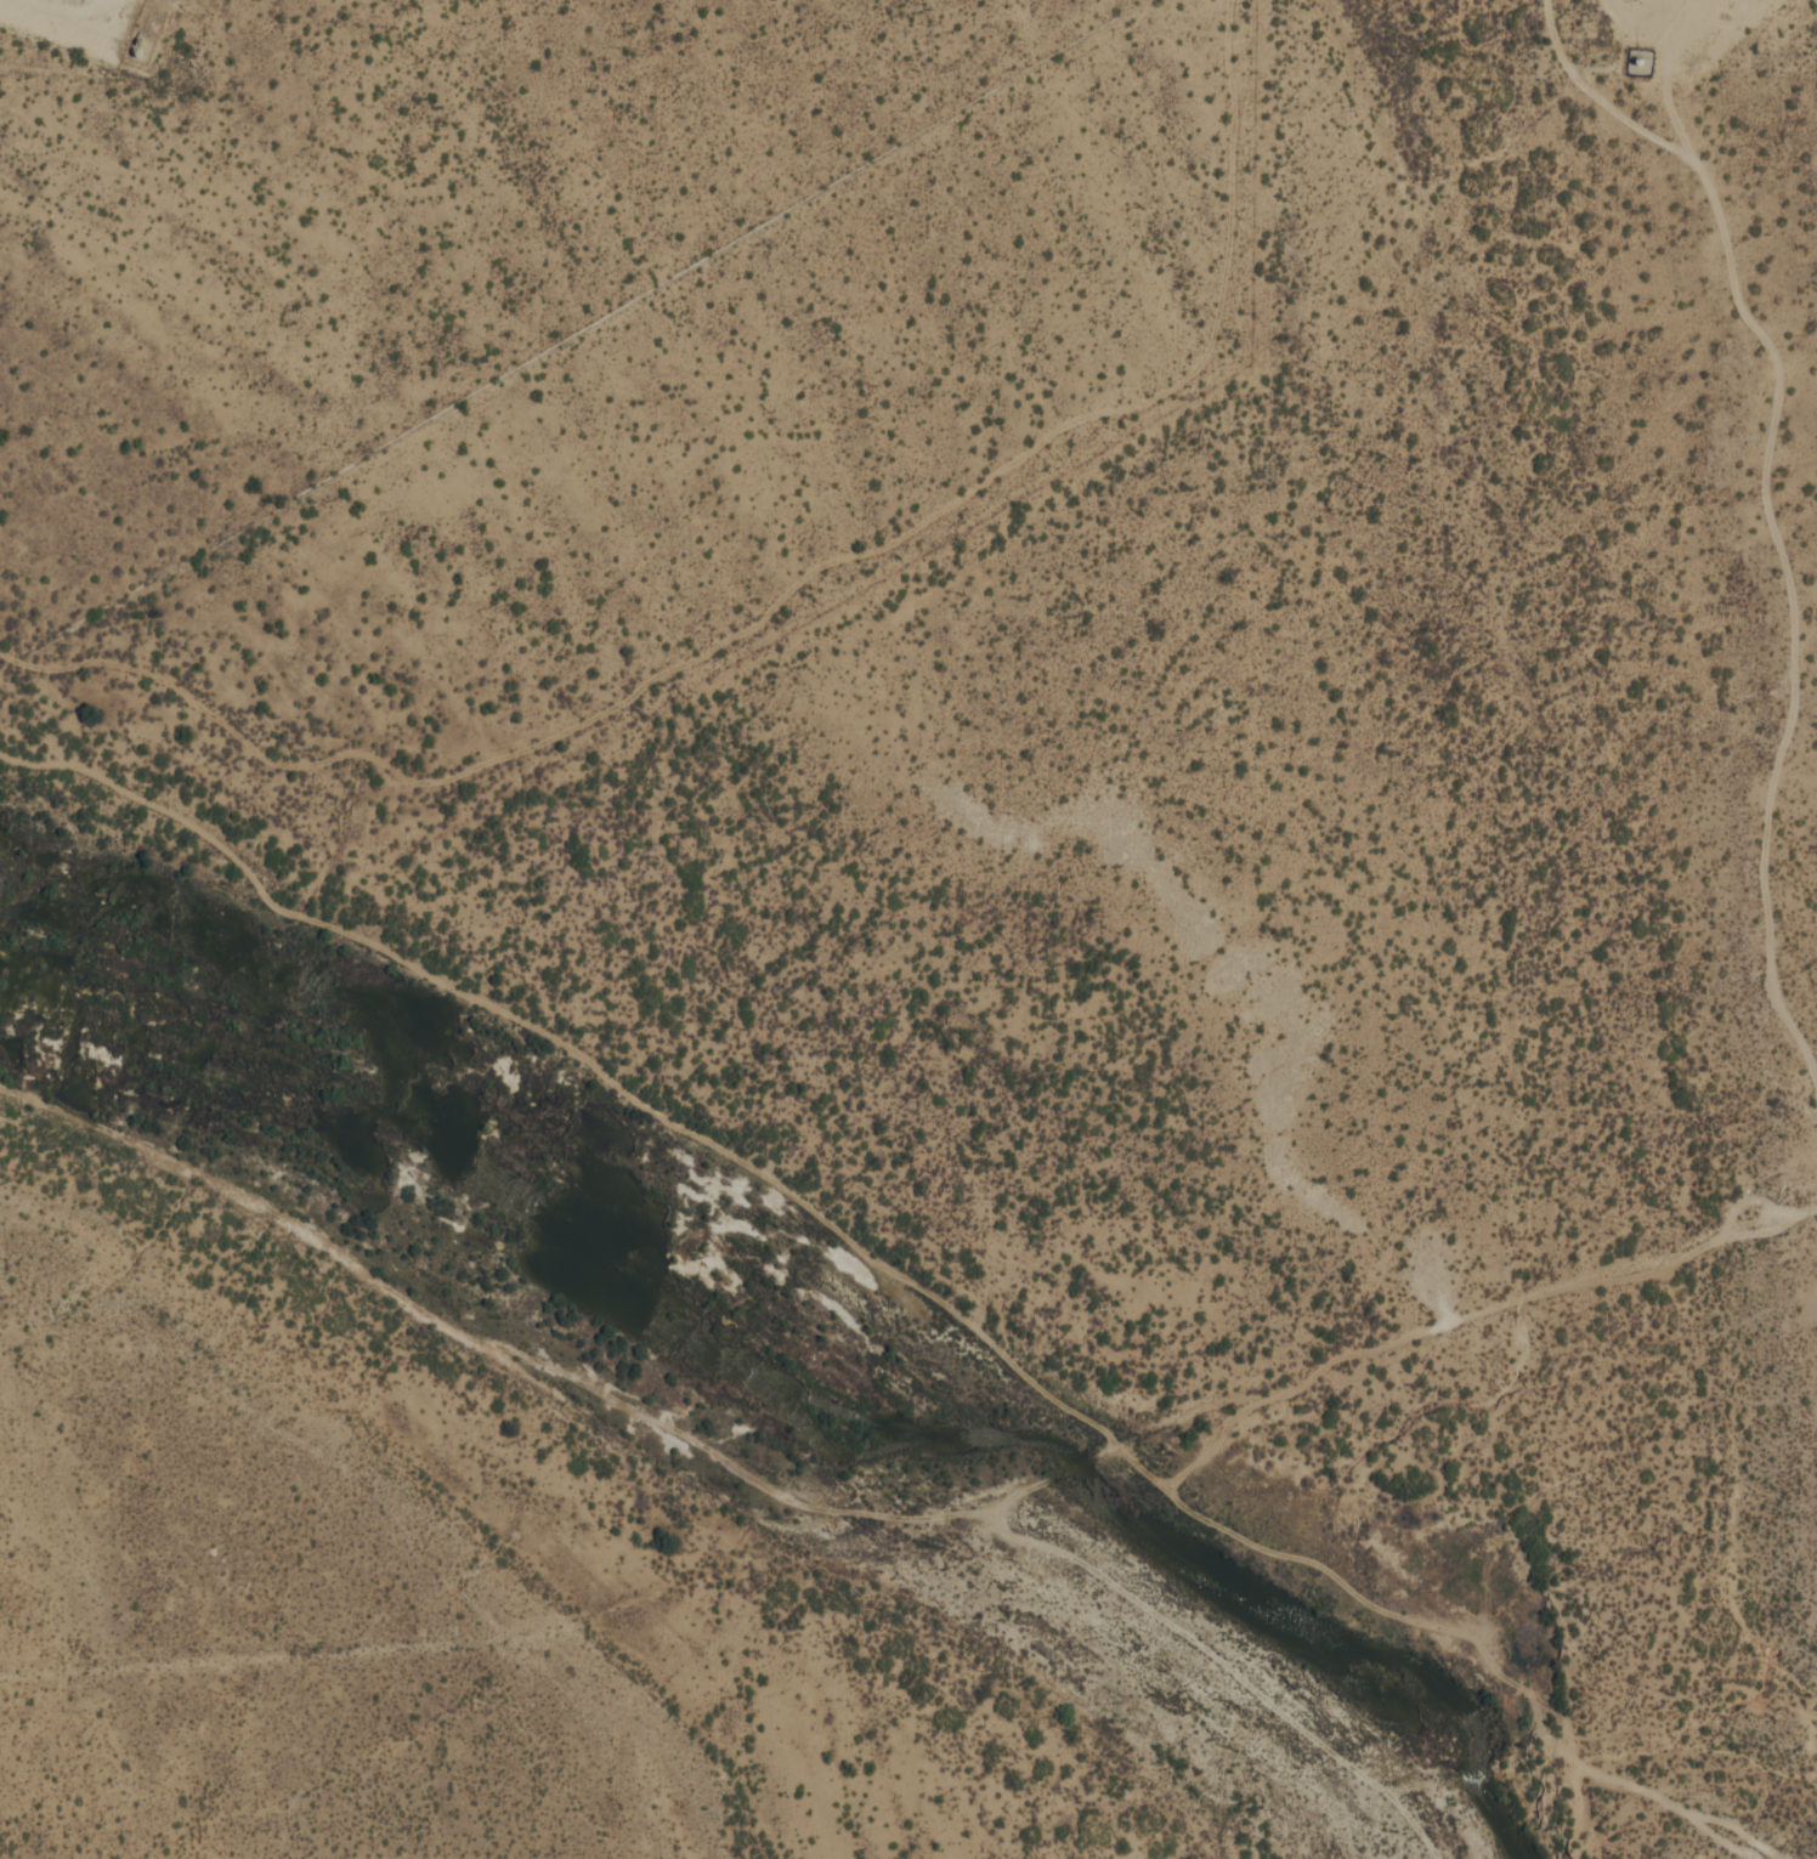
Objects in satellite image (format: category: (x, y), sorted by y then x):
road: (1628, 24)
road: (1629, 121)
road: (1765, 493)
road: (877, 549)
road: (192, 703)
river: (214, 1045)
road: (582, 1055)
road: (1467, 1316)
river: (1014, 1446)
road: (894, 1514)
road: (1228, 1665)

